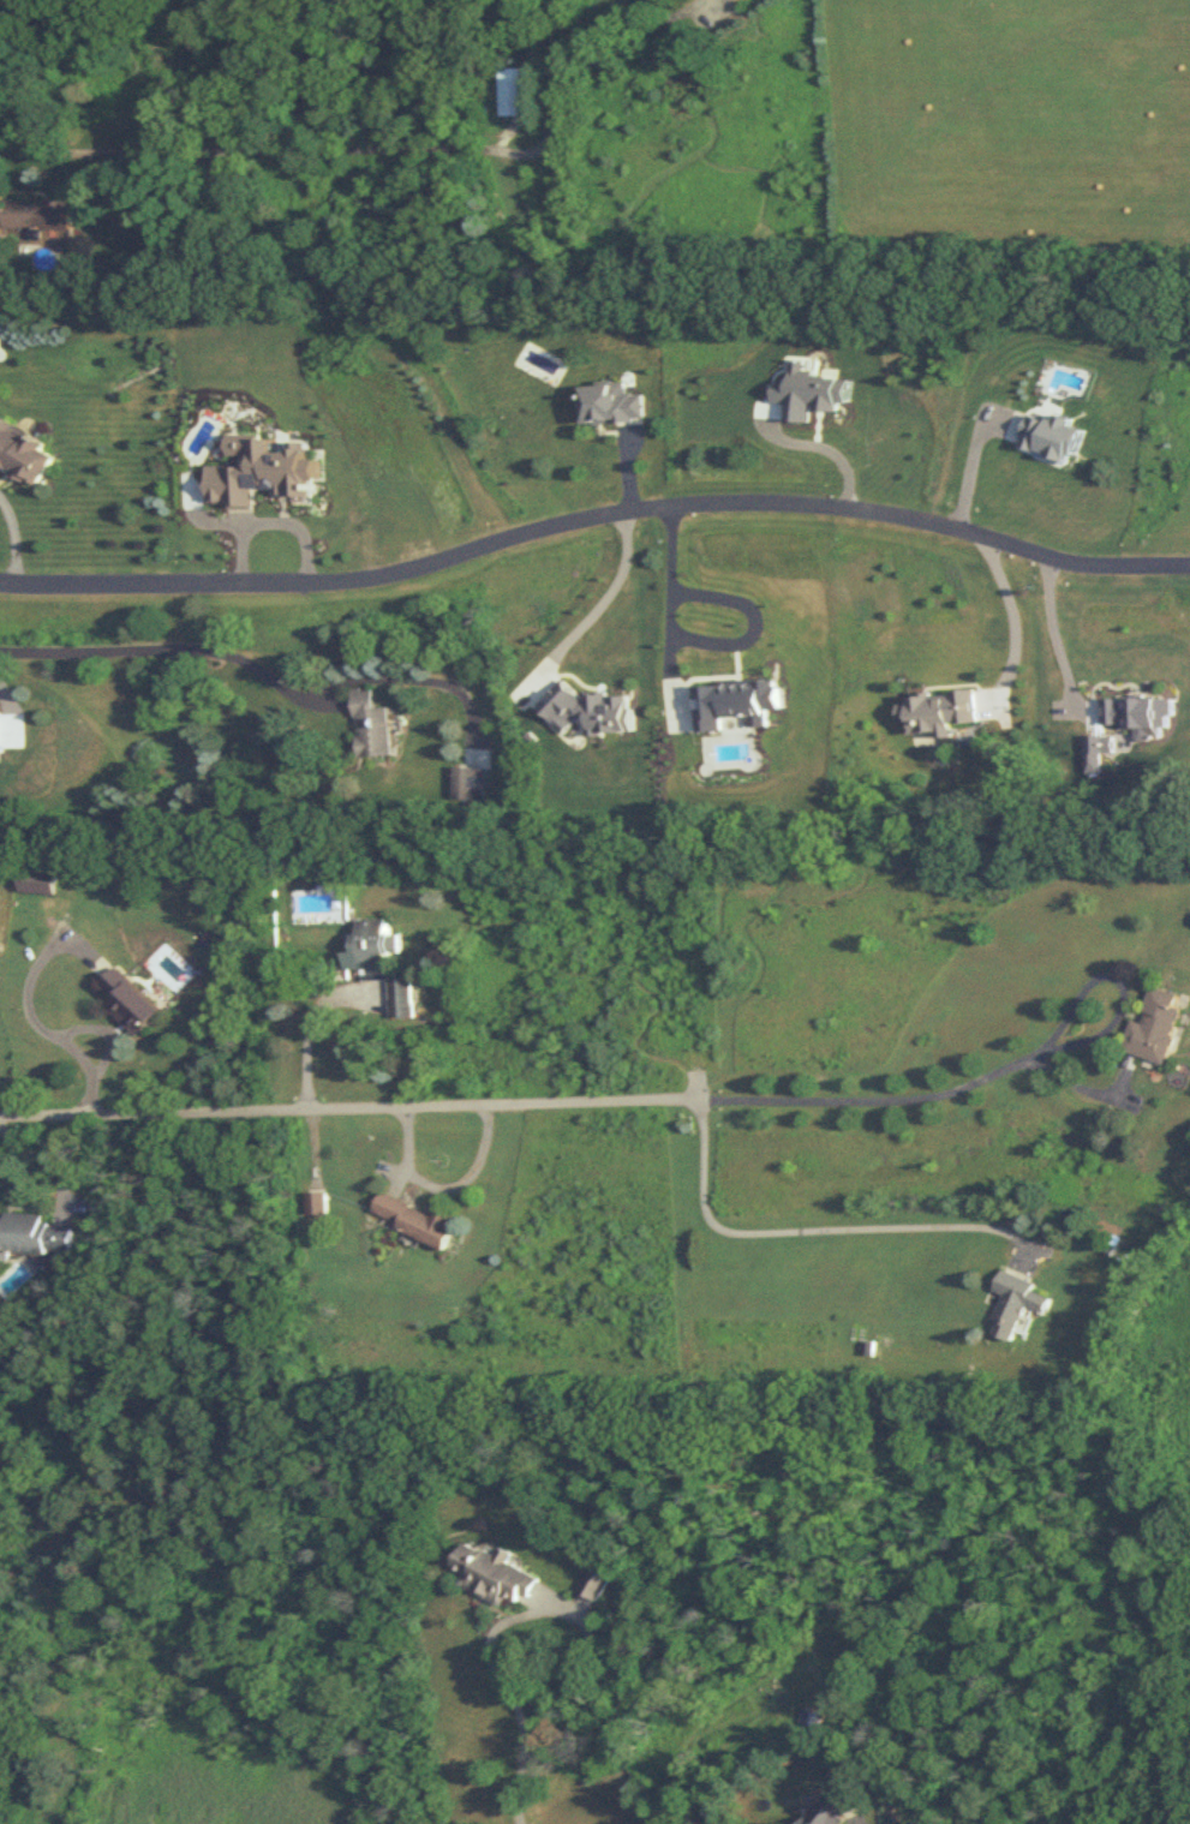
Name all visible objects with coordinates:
building: (513, 91)
road: (387, 148)
building: (37, 214)
building: (1, 336)
building: (25, 453)
road: (594, 516)
road: (207, 519)
road: (275, 525)
road: (12, 532)
road: (608, 598)
road: (674, 610)
road: (1016, 623)
road: (1056, 623)
road: (177, 651)
building: (375, 725)
building: (467, 784)
building: (40, 881)
building: (383, 961)
building: (132, 1003)
road: (41, 1023)
building: (1160, 1025)
road: (309, 1030)
road: (920, 1096)
road: (348, 1106)
road: (40, 1162)
road: (443, 1184)
building: (317, 1203)
building: (415, 1219)
road: (811, 1228)
building: (34, 1234)
building: (1022, 1304)
building: (492, 1577)
building: (592, 1584)
road: (542, 1610)
road: (513, 1784)
building: (835, 1808)

